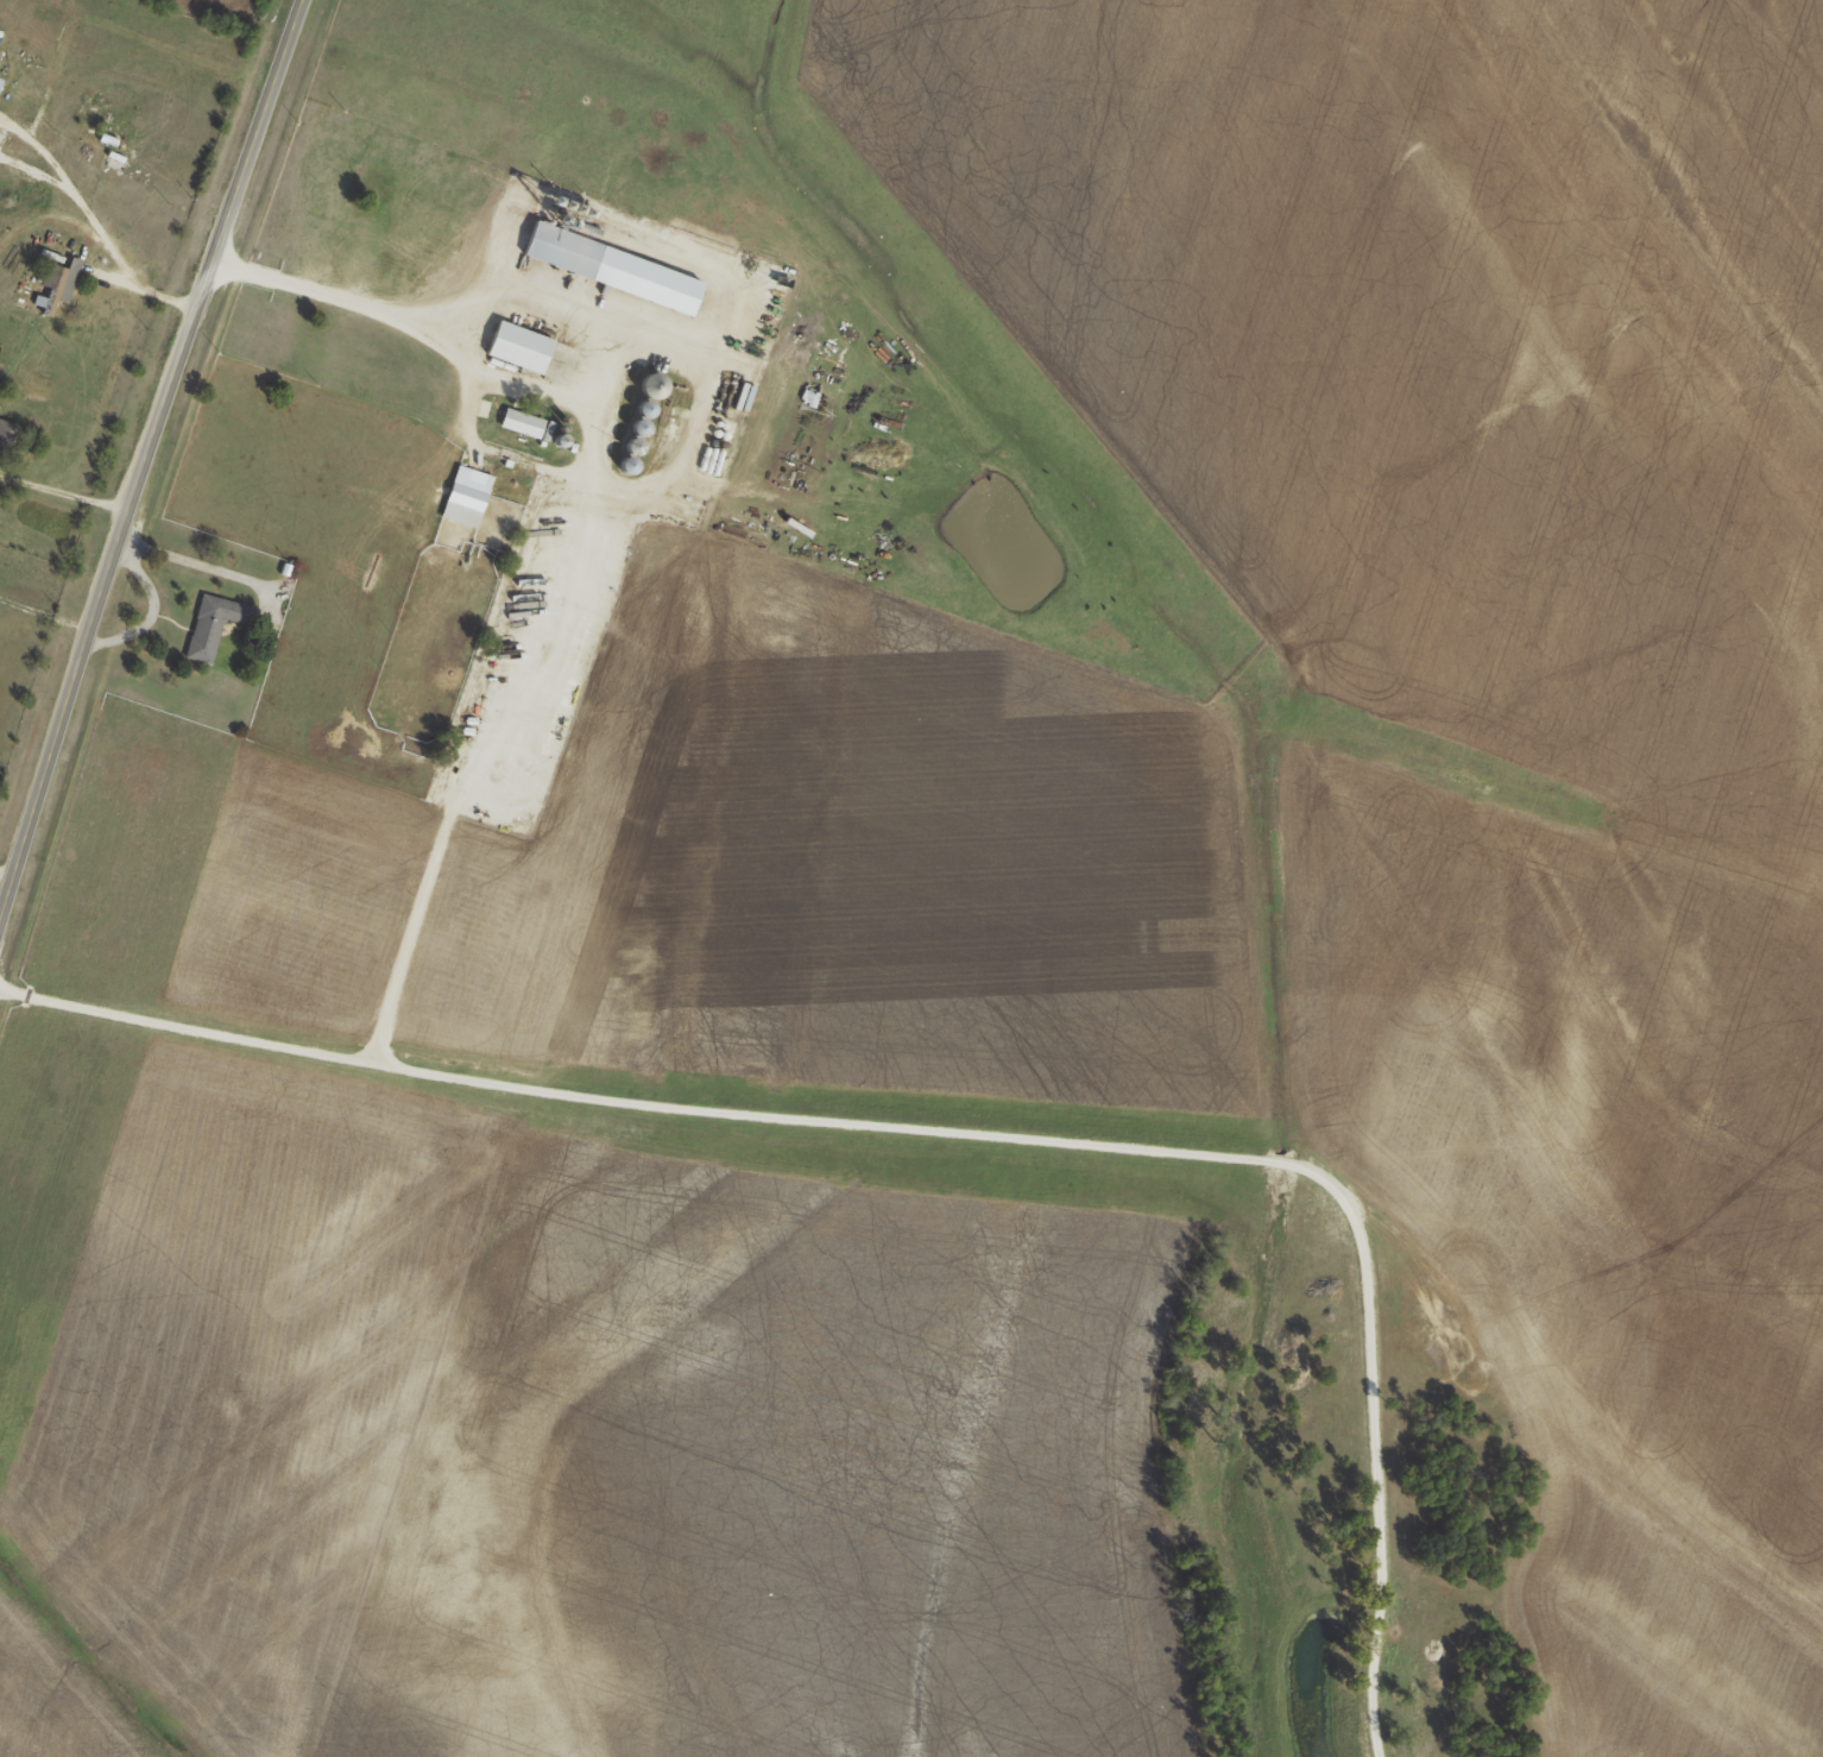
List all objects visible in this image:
building: (100, 137)
building: (563, 250)
building: (56, 284)
road: (345, 301)
building: (519, 346)
building: (654, 385)
building: (646, 408)
building: (522, 422)
building: (641, 427)
building: (7, 439)
building: (635, 446)
road: (146, 454)
building: (627, 465)
building: (214, 624)
road: (960, 1133)

